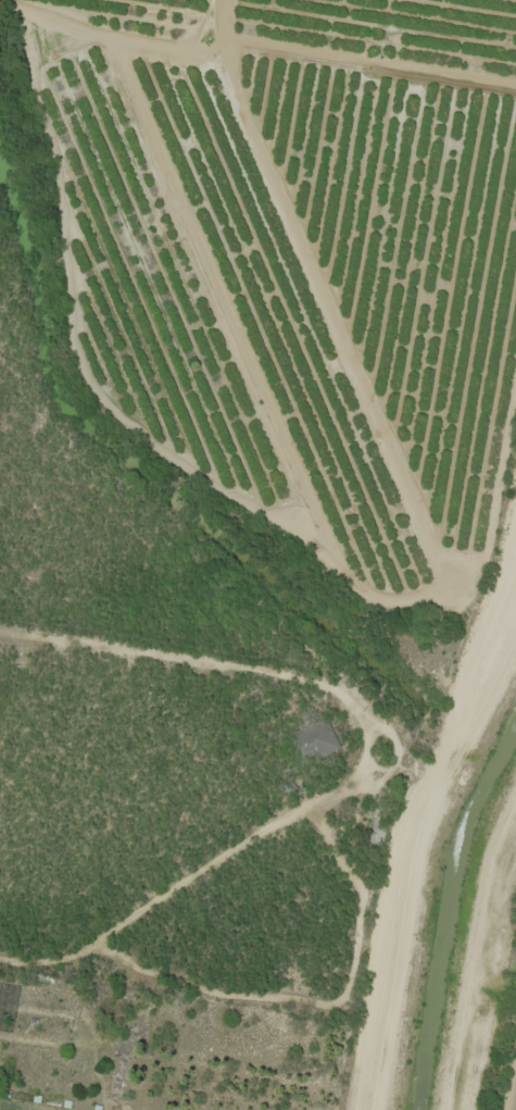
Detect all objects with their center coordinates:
building: (311, 741)
building: (378, 821)

